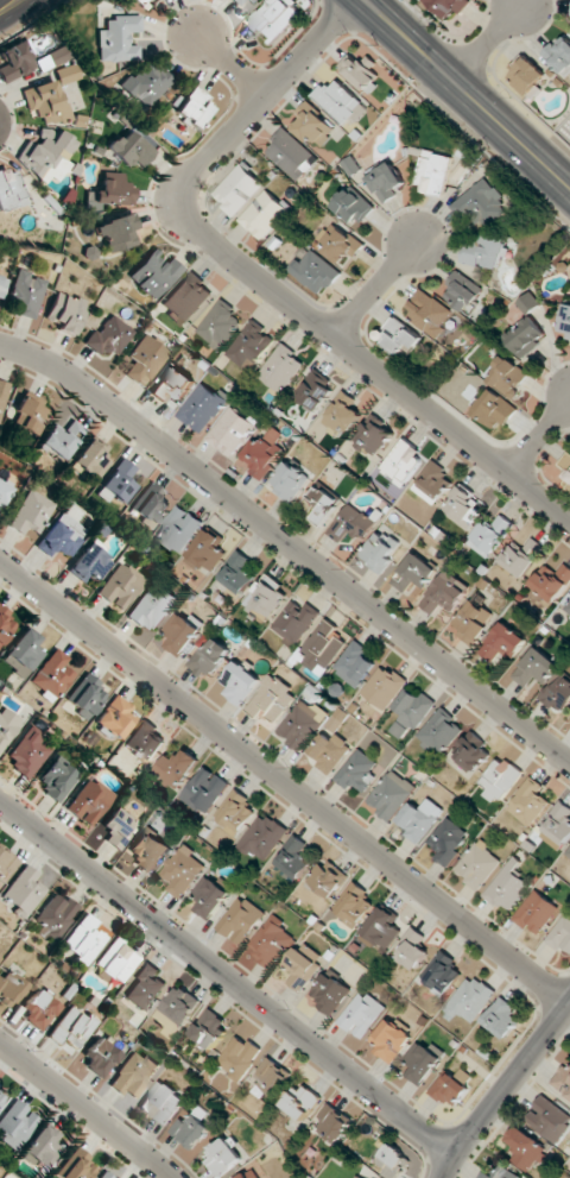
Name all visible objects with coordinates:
building: (139, 1)
building: (256, 1)
building: (237, 2)
road: (8, 6)
building: (449, 6)
building: (274, 18)
building: (118, 39)
road: (488, 42)
building: (559, 53)
building: (56, 57)
building: (14, 61)
road: (232, 67)
building: (359, 71)
building: (66, 74)
building: (527, 75)
building: (146, 83)
road: (467, 93)
building: (338, 100)
building: (46, 101)
building: (194, 108)
building: (311, 124)
building: (131, 150)
building: (291, 155)
building: (47, 156)
building: (433, 172)
building: (385, 182)
building: (9, 189)
building: (237, 189)
building: (110, 193)
building: (481, 204)
building: (353, 206)
building: (264, 214)
building: (118, 233)
building: (340, 244)
building: (484, 251)
building: (316, 272)
building: (154, 275)
road: (264, 284)
building: (2, 286)
road: (376, 288)
building: (462, 290)
building: (26, 294)
building: (188, 297)
building: (528, 303)
building: (65, 311)
building: (427, 311)
building: (564, 320)
building: (220, 325)
building: (109, 336)
building: (400, 336)
building: (526, 336)
building: (249, 346)
building: (145, 360)
building: (281, 368)
building: (507, 376)
building: (173, 383)
building: (316, 390)
building: (2, 392)
building: (203, 408)
building: (494, 410)
building: (343, 414)
building: (28, 417)
building: (232, 431)
road: (539, 436)
building: (373, 437)
building: (61, 440)
building: (265, 452)
building: (93, 458)
building: (403, 461)
building: (565, 466)
building: (290, 481)
building: (118, 483)
building: (432, 483)
building: (4, 492)
building: (151, 504)
building: (322, 505)
building: (463, 508)
building: (31, 514)
building: (351, 524)
building: (178, 529)
building: (61, 536)
building: (489, 536)
road: (290, 546)
building: (207, 550)
building: (380, 550)
building: (521, 556)
building: (90, 562)
building: (236, 573)
building: (414, 573)
building: (551, 582)
building: (121, 586)
building: (445, 593)
building: (266, 598)
building: (151, 609)
building: (569, 609)
building: (473, 621)
building: (294, 622)
building: (5, 624)
building: (180, 634)
building: (503, 645)
building: (321, 648)
building: (24, 653)
building: (209, 657)
building: (354, 664)
building: (536, 668)
building: (53, 674)
building: (240, 682)
building: (384, 687)
building: (559, 693)
building: (85, 695)
building: (272, 700)
building: (411, 711)
building: (116, 717)
building: (302, 724)
building: (5, 729)
building: (439, 732)
building: (145, 741)
building: (329, 751)
building: (27, 752)
building: (470, 752)
building: (177, 767)
building: (357, 771)
building: (57, 779)
building: (499, 780)
road: (284, 782)
building: (204, 789)
building: (391, 794)
building: (89, 801)
building: (528, 802)
building: (234, 812)
building: (419, 819)
building: (559, 824)
building: (118, 827)
building: (261, 838)
building: (448, 840)
building: (147, 850)
building: (568, 852)
building: (293, 858)
building: (6, 863)
building: (477, 865)
building: (182, 870)
building: (328, 877)
building: (507, 886)
building: (23, 890)
building: (210, 896)
building: (353, 905)
building: (536, 912)
building: (55, 915)
building: (240, 920)
building: (382, 927)
building: (562, 933)
building: (85, 938)
building: (271, 941)
building: (412, 949)
building: (118, 960)
building: (302, 965)
building: (442, 974)
road: (227, 975)
building: (145, 987)
building: (9, 988)
building: (470, 999)
building: (178, 1006)
building: (39, 1010)
building: (362, 1014)
building: (501, 1018)
building: (72, 1027)
building: (210, 1028)
building: (391, 1039)
building: (240, 1057)
building: (100, 1058)
building: (423, 1062)
building: (133, 1075)
building: (563, 1081)
building: (452, 1086)
road: (502, 1089)
building: (1, 1098)
building: (163, 1102)
building: (299, 1102)
road: (87, 1109)
building: (549, 1119)
building: (15, 1123)
building: (335, 1123)
building: (190, 1129)
building: (43, 1146)
building: (526, 1148)
building: (223, 1157)
building: (392, 1161)
building: (77, 1166)
building: (500, 1173)
building: (106, 1174)
building: (251, 1174)
building: (357, 1177)

